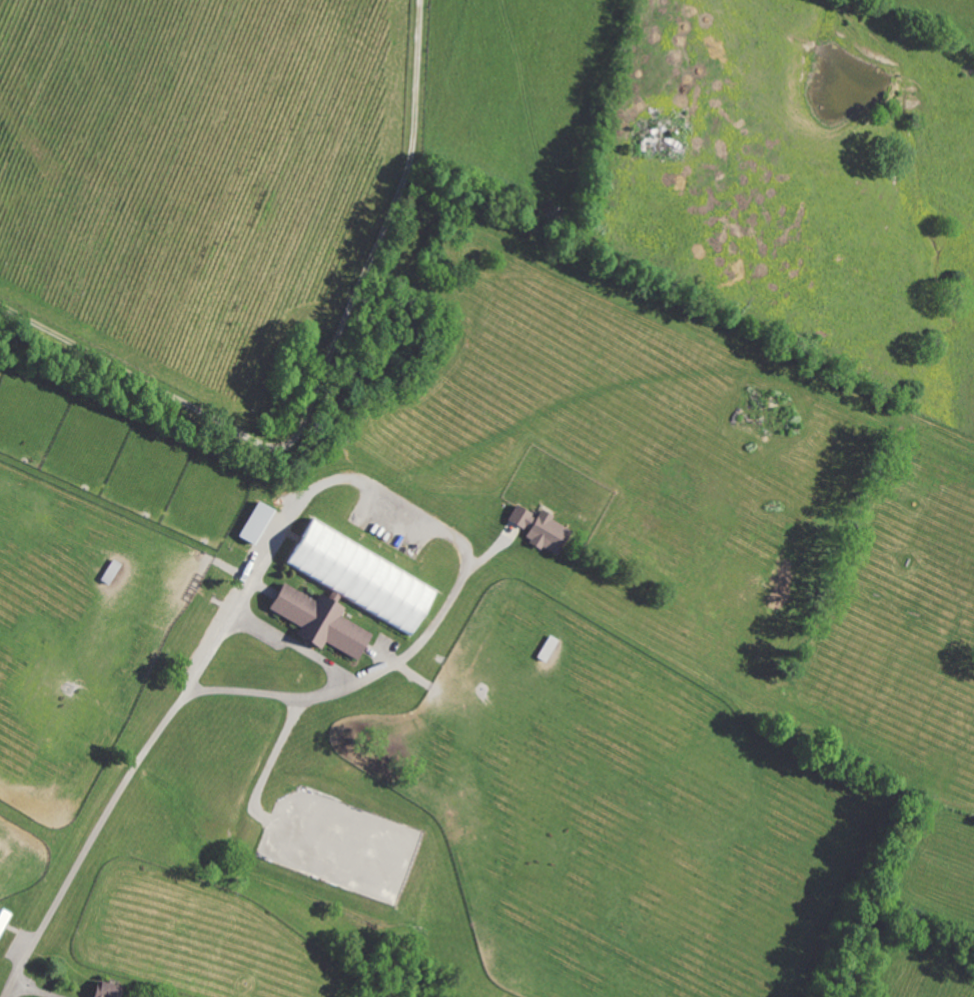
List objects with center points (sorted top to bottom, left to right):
road: (320, 379)
building: (253, 523)
road: (443, 529)
building: (538, 529)
building: (357, 577)
building: (316, 621)
road: (296, 646)
road: (90, 842)
building: (3, 918)
building: (103, 990)
road: (31, 991)

